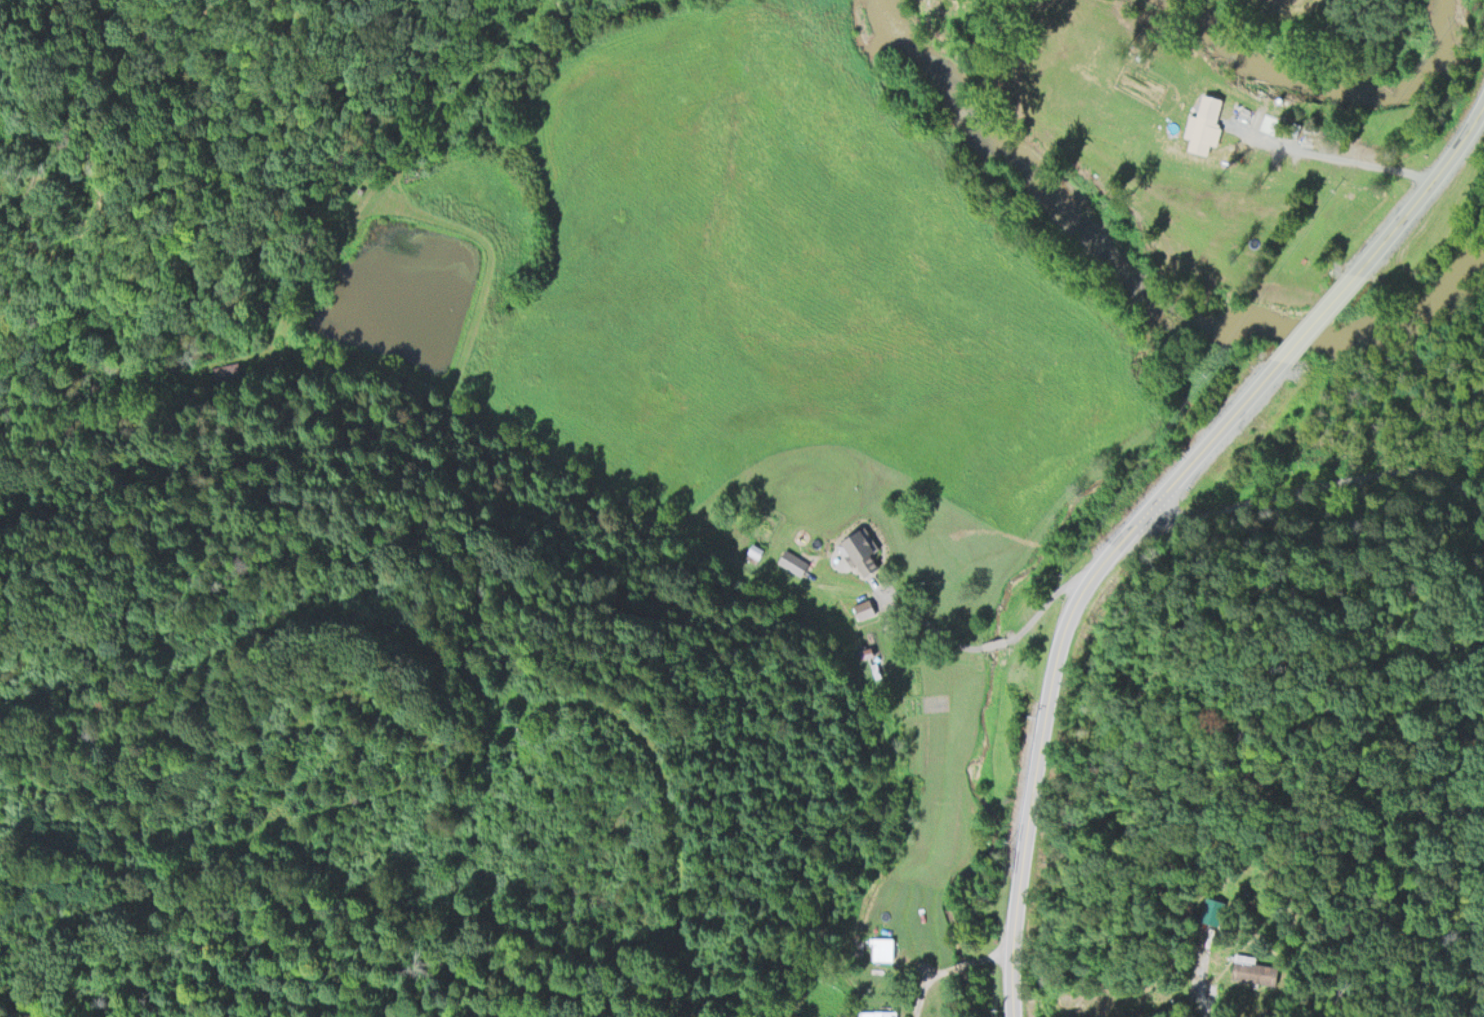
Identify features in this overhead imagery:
crop: (1347, 30)
river: (1347, 78)
building: (1202, 132)
road: (377, 150)
road: (1344, 153)
road: (1427, 187)
road: (101, 236)
river: (1142, 250)
road: (1313, 325)
road: (144, 376)
road: (1327, 482)
road: (685, 536)
building: (860, 548)
building: (755, 550)
building: (794, 560)
building: (863, 608)
building: (866, 651)
road: (1056, 666)
road: (451, 739)
building: (882, 947)
building: (1255, 972)
road: (1201, 1001)
building: (880, 1010)

